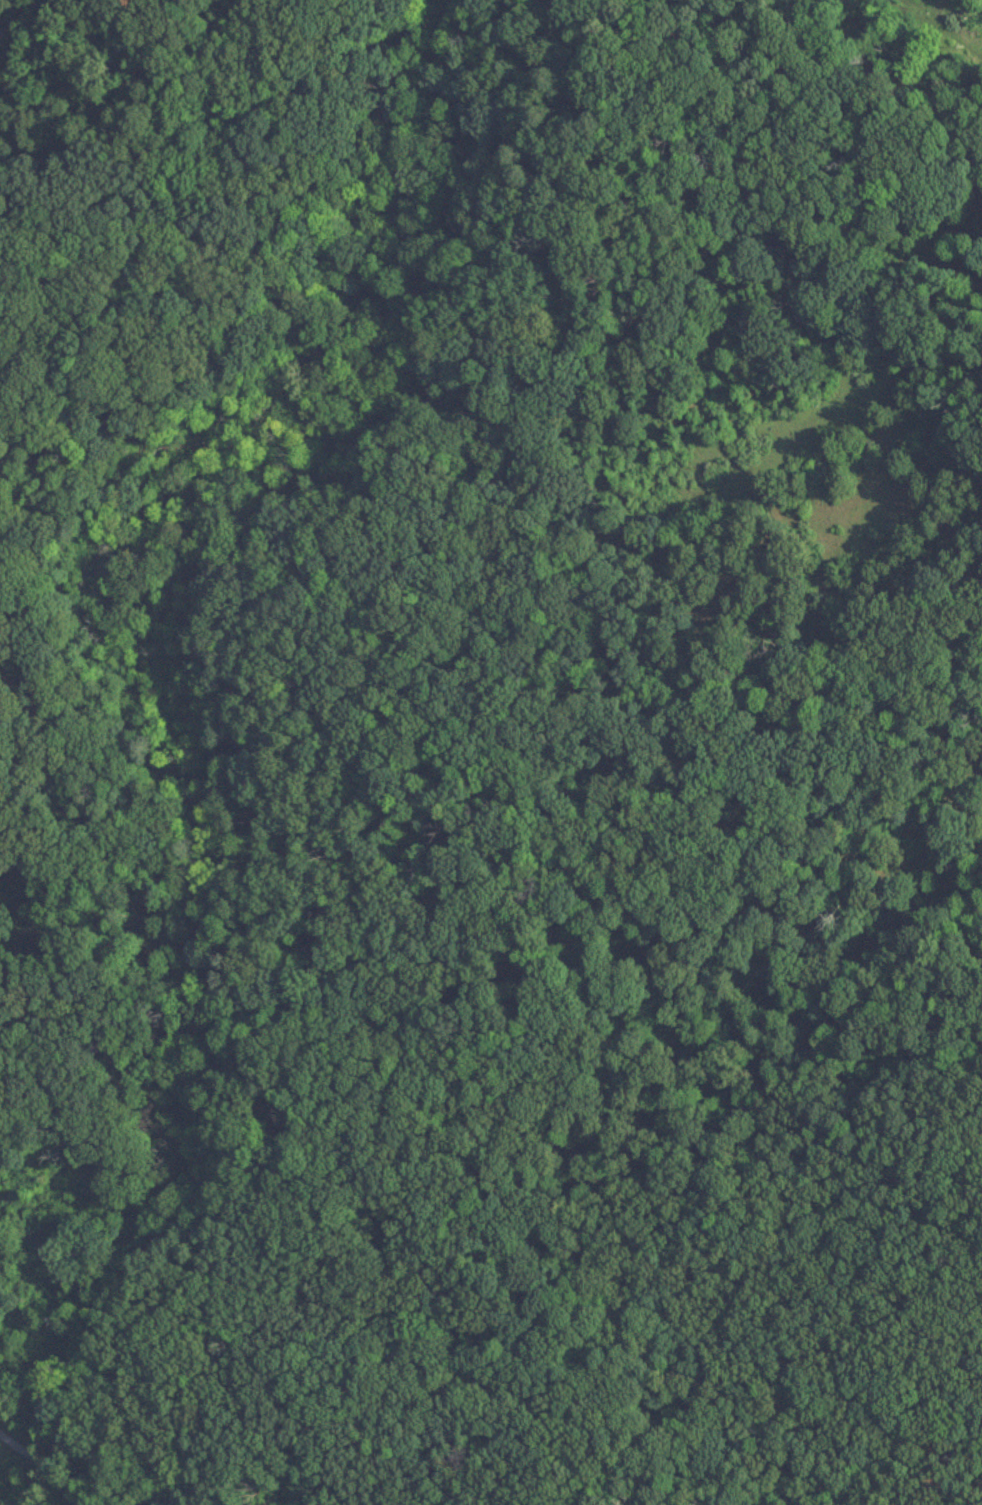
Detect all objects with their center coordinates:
road: (26, 22)
road: (128, 70)
road: (233, 208)
park: (262, 621)
road: (31, 684)
road: (41, 1467)

